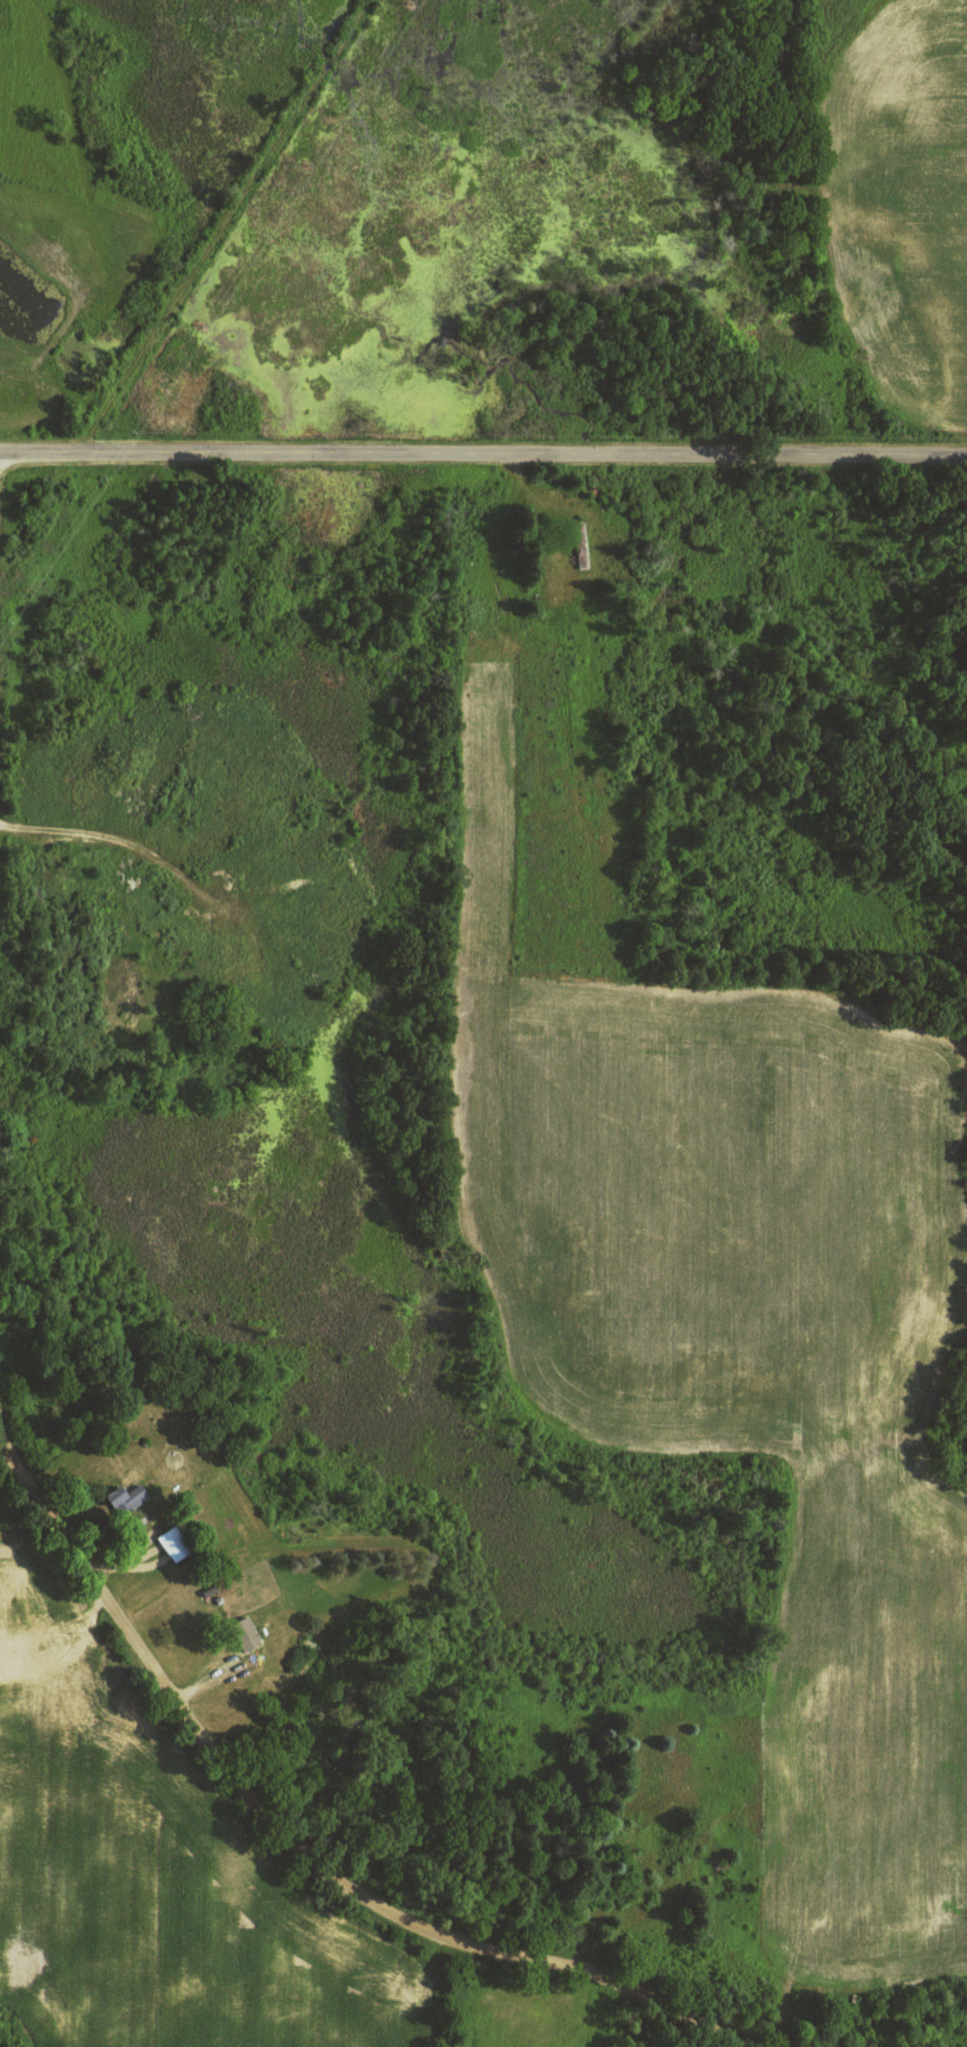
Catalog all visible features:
road: (483, 457)
building: (127, 1498)
building: (246, 1634)
road: (291, 1847)

